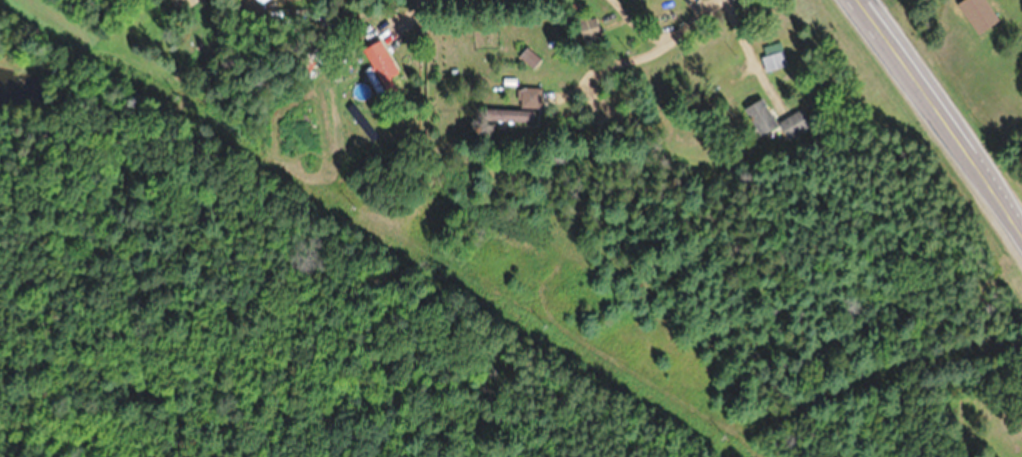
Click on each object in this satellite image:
road: (432, 2)
building: (181, 3)
road: (422, 7)
building: (978, 13)
building: (587, 25)
road: (638, 25)
road: (746, 50)
road: (637, 56)
building: (772, 60)
building: (383, 65)
building: (529, 97)
building: (759, 113)
building: (511, 115)
road: (941, 120)
building: (795, 122)

